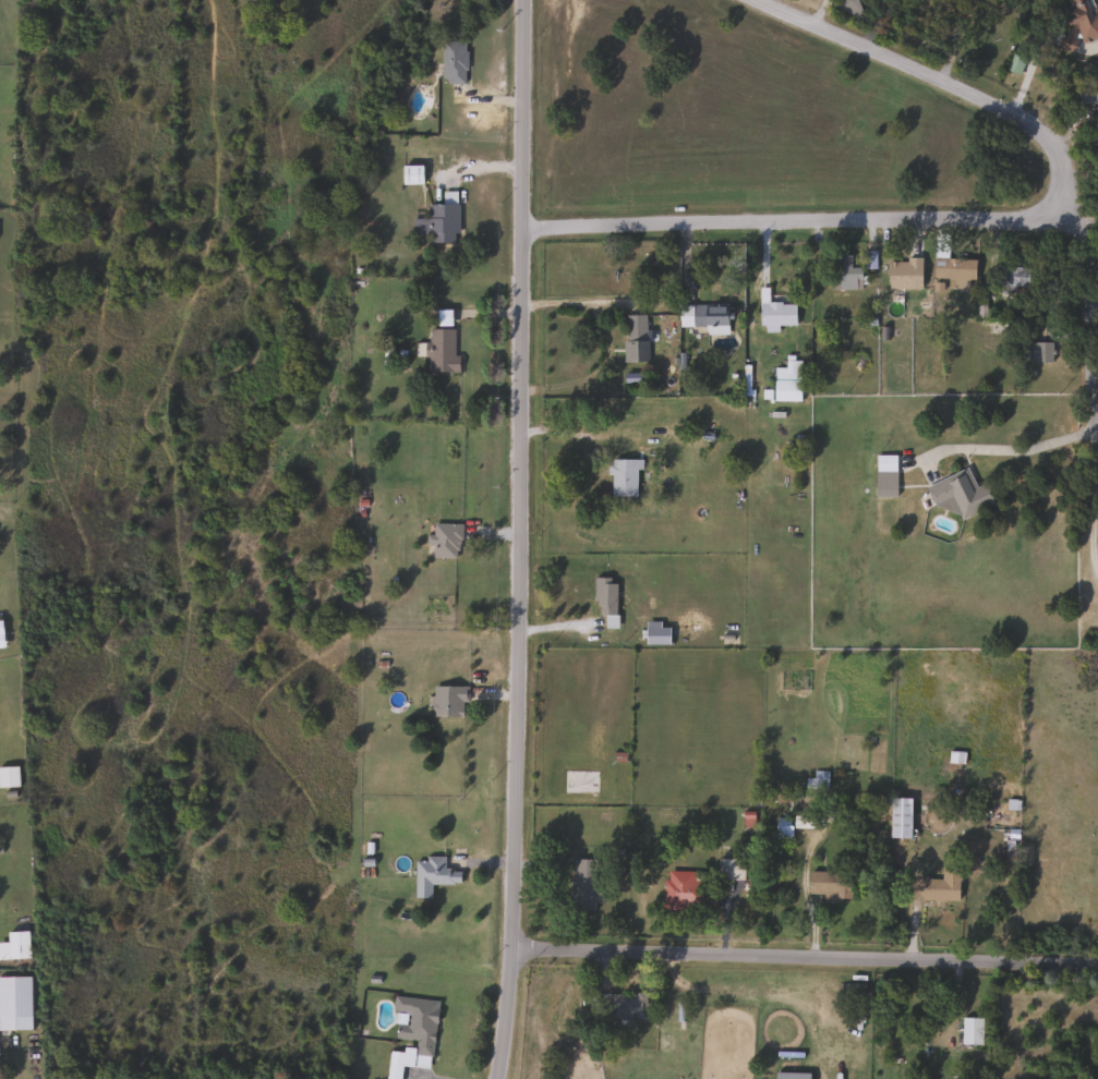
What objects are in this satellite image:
road: (209, 3)
road: (117, 12)
building: (1081, 21)
road: (60, 31)
building: (4, 51)
building: (453, 61)
building: (1013, 62)
road: (45, 73)
building: (1087, 93)
road: (1073, 142)
road: (160, 157)
building: (411, 173)
road: (980, 218)
road: (1090, 220)
building: (443, 222)
road: (1087, 248)
building: (954, 267)
building: (904, 274)
building: (1015, 275)
building: (845, 278)
road: (570, 302)
road: (186, 311)
building: (773, 312)
building: (703, 316)
road: (130, 338)
building: (634, 338)
building: (442, 349)
building: (1039, 352)
road: (1089, 372)
building: (786, 380)
road: (85, 412)
road: (1004, 442)
building: (884, 475)
building: (623, 477)
building: (958, 494)
road: (1094, 524)
road: (521, 539)
building: (445, 541)
road: (184, 594)
building: (604, 598)
building: (448, 701)
building: (9, 776)
building: (579, 781)
building: (898, 817)
building: (729, 869)
building: (434, 873)
road: (148, 883)
building: (584, 884)
building: (828, 885)
building: (941, 886)
building: (680, 889)
building: (14, 946)
road: (805, 953)
road: (209, 989)
building: (14, 1003)
building: (616, 1006)
building: (414, 1022)
building: (394, 1066)
building: (791, 1075)

